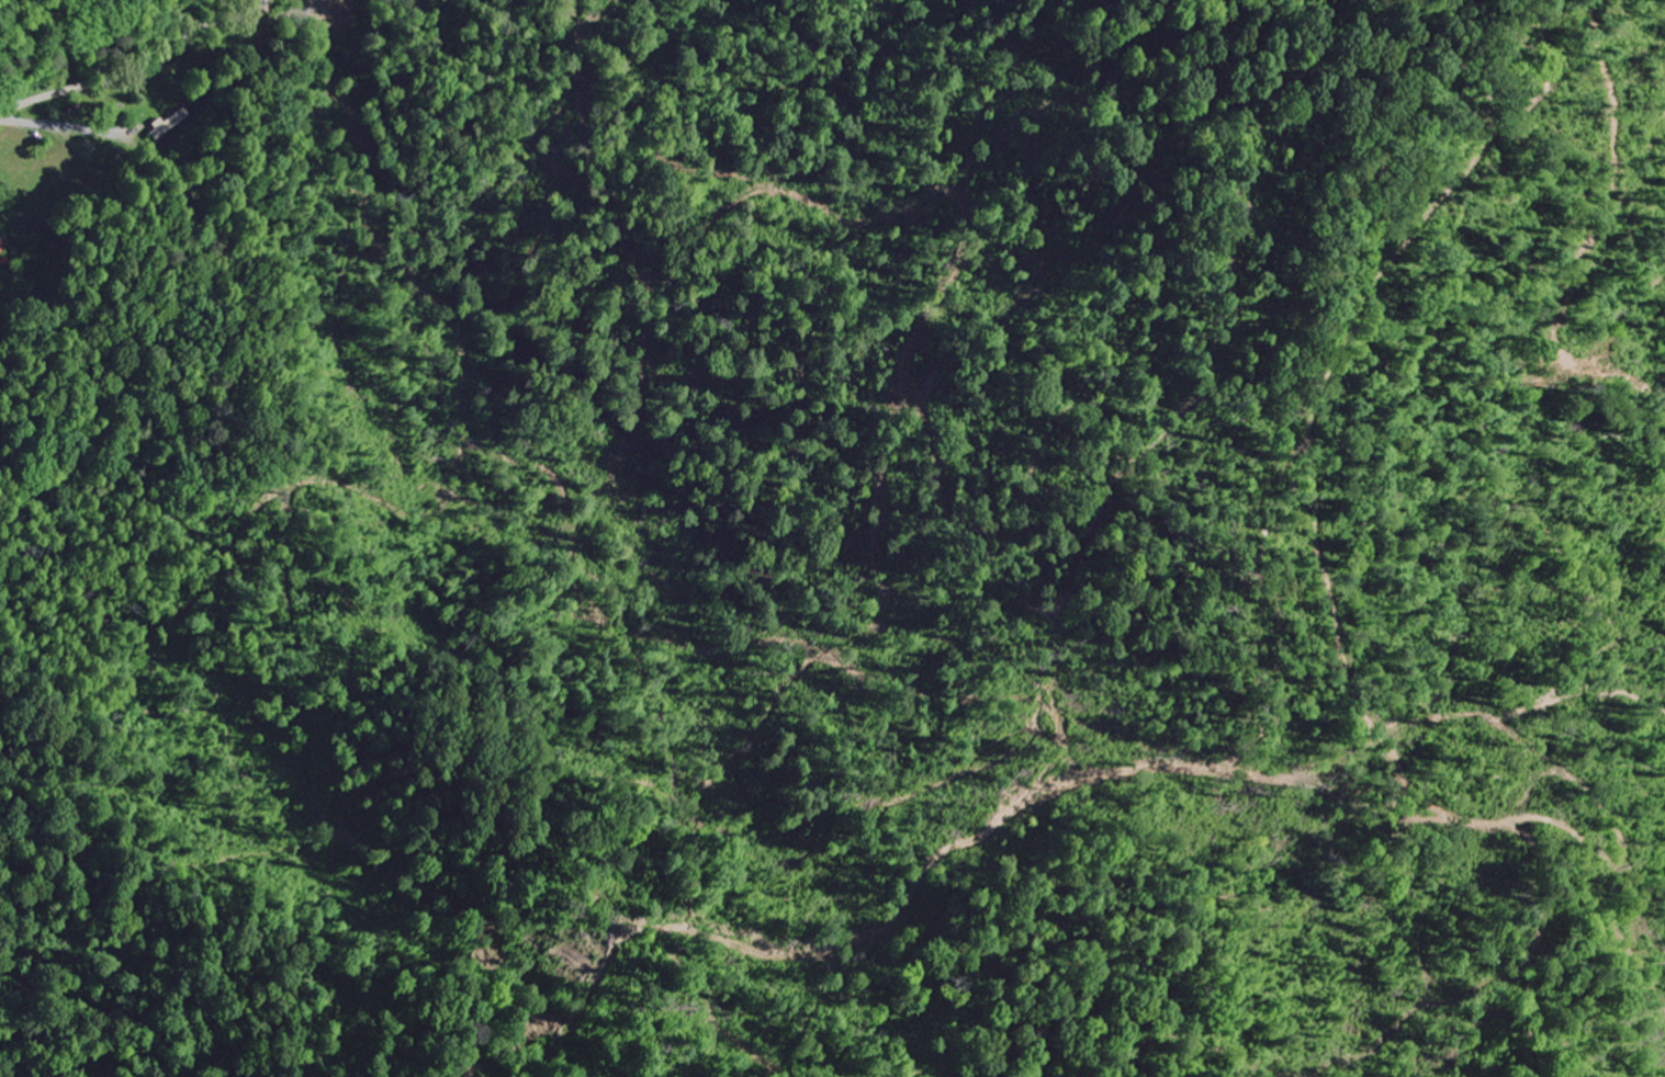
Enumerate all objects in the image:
road: (144, 72)
building: (167, 123)
road: (60, 124)
building: (2, 248)

